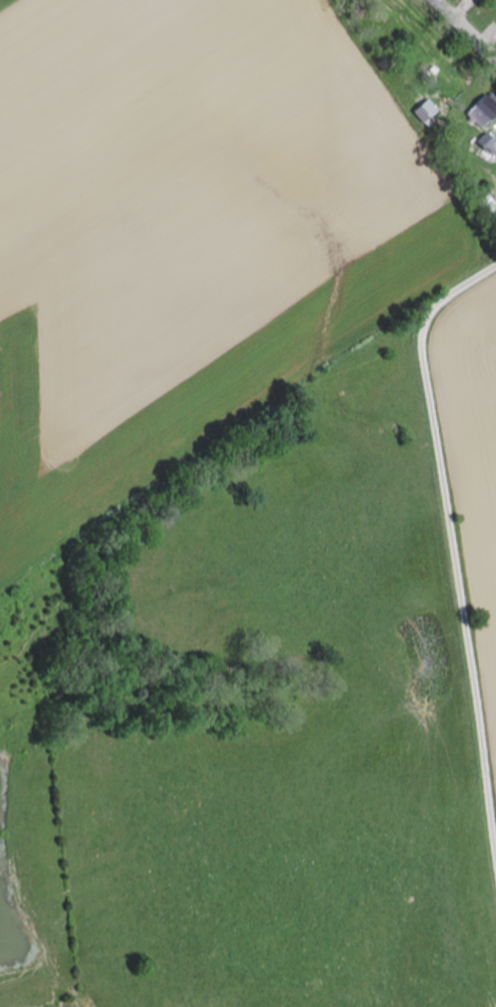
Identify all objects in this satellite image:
road: (464, 31)
building: (481, 111)
road: (452, 534)

